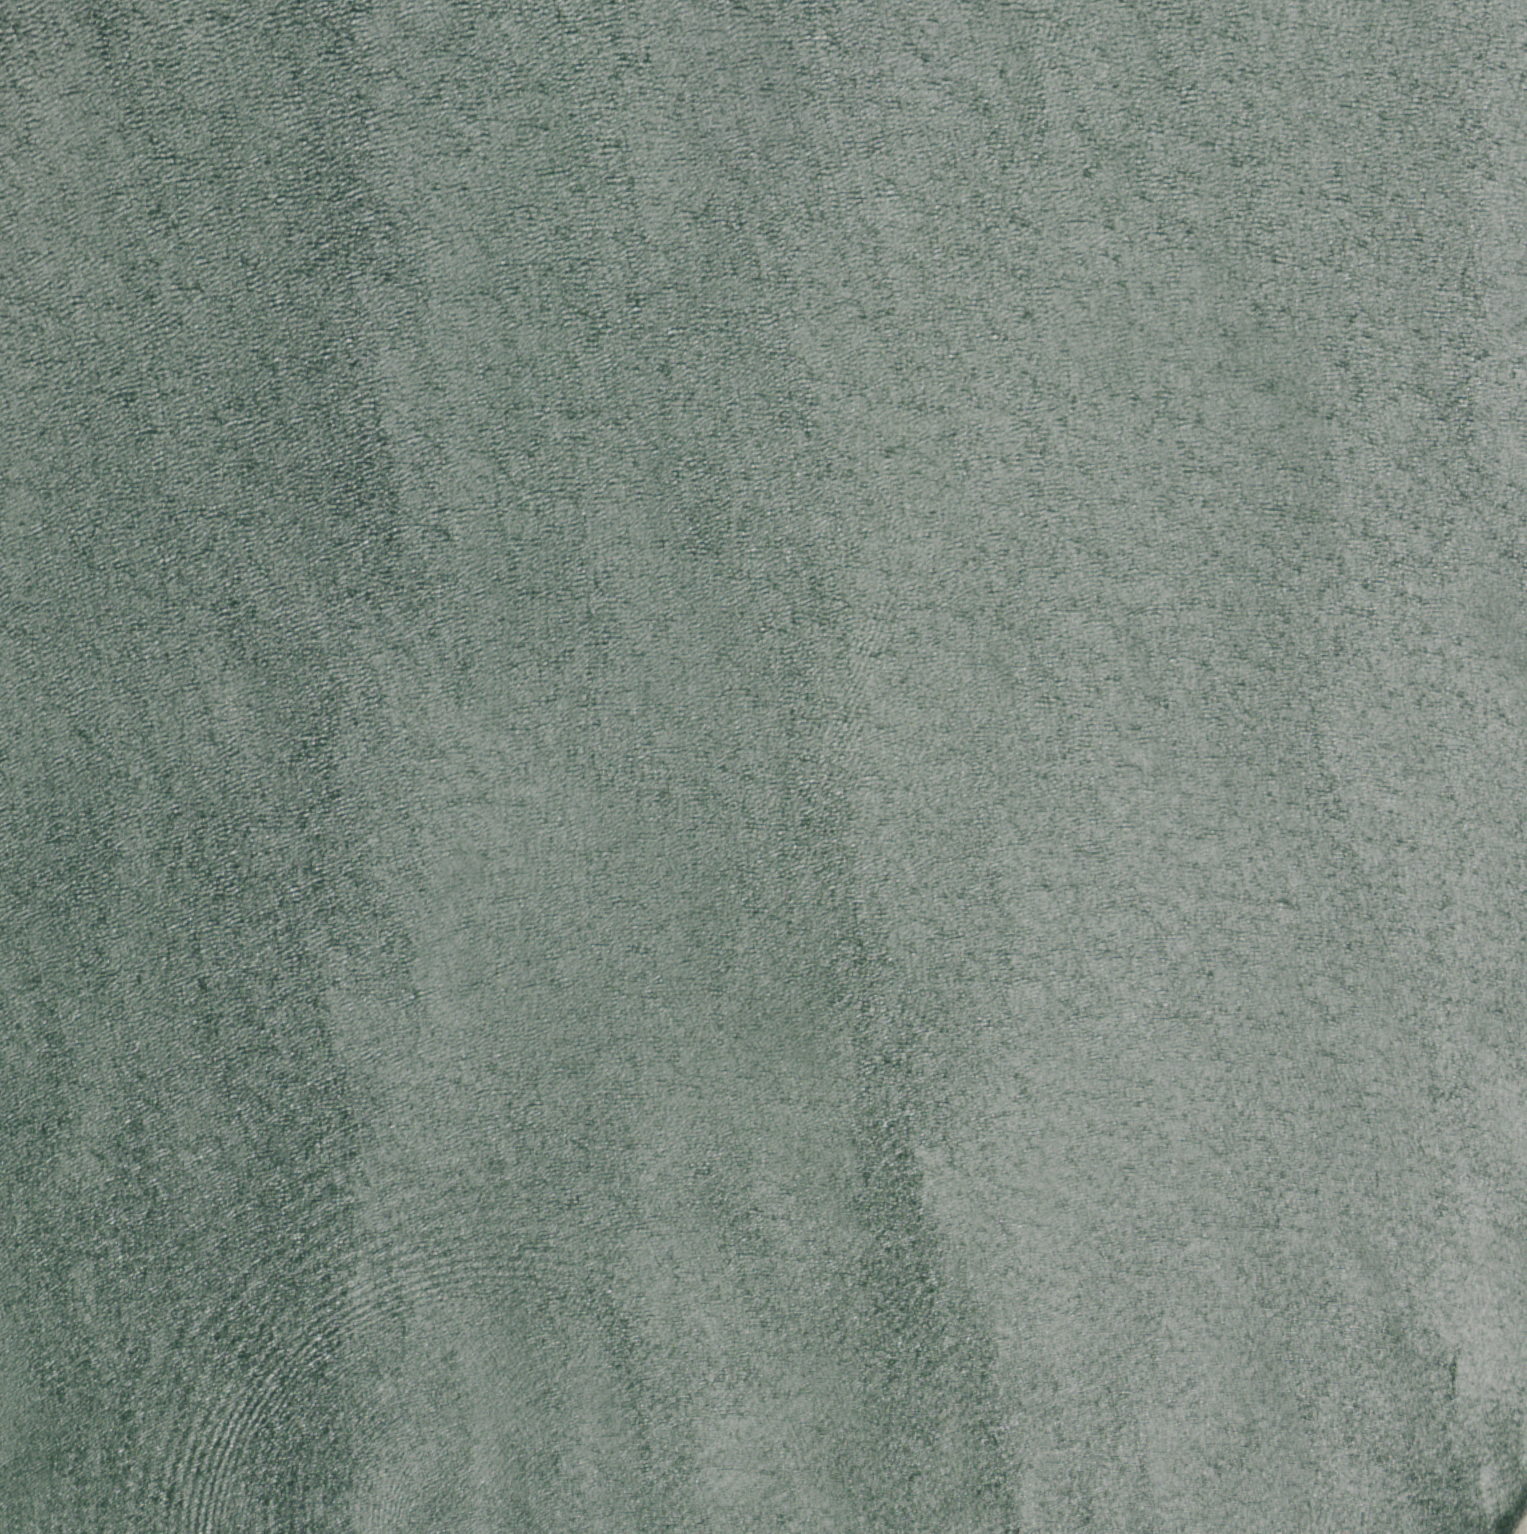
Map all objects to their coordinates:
river: (1041, 86)
river: (373, 467)
park: (763, 767)

